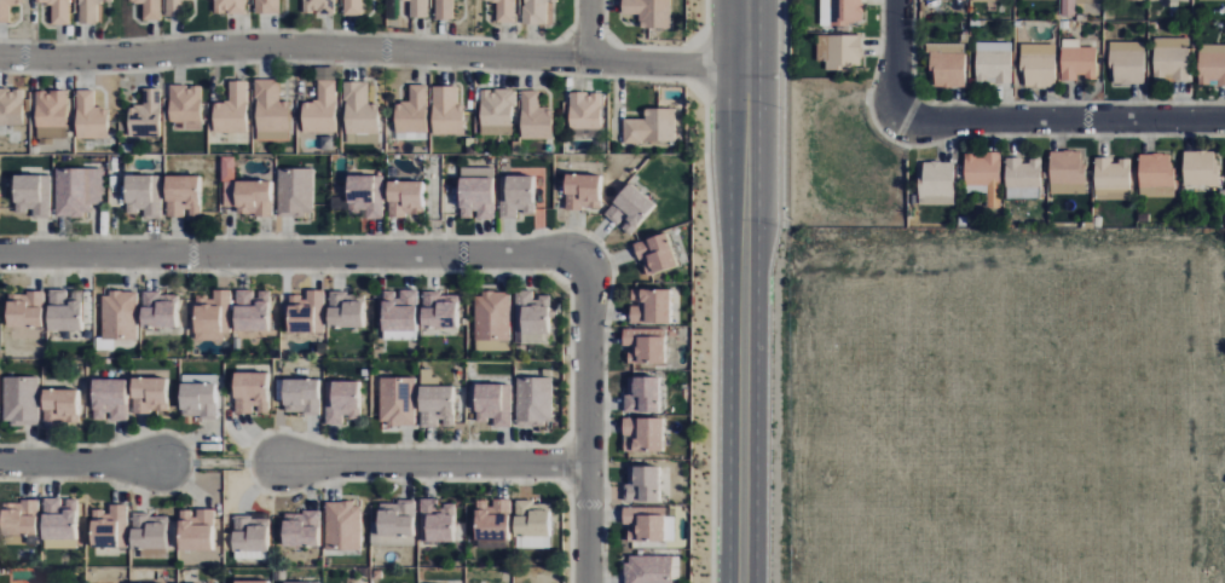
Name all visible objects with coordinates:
building: (989, 0)
building: (1214, 0)
building: (232, 6)
building: (270, 6)
building: (320, 6)
building: (356, 6)
building: (420, 7)
building: (1068, 7)
building: (7, 8)
building: (152, 8)
building: (177, 8)
building: (446, 8)
building: (60, 10)
building: (92, 10)
building: (507, 10)
building: (538, 11)
building: (840, 11)
building: (649, 12)
road: (705, 21)
road: (573, 22)
road: (603, 22)
road: (588, 29)
road: (281, 31)
road: (746, 31)
road: (584, 42)
road: (692, 46)
road: (645, 48)
road: (372, 50)
building: (838, 51)
road: (896, 59)
building: (1171, 59)
building: (993, 63)
building: (1077, 63)
building: (1127, 63)
road: (701, 64)
building: (947, 64)
building: (1212, 64)
building: (1038, 65)
road: (599, 76)
building: (186, 103)
building: (11, 106)
building: (271, 106)
building: (497, 106)
building: (53, 108)
building: (235, 109)
building: (360, 109)
building: (323, 110)
building: (414, 110)
building: (587, 110)
building: (449, 111)
building: (148, 115)
building: (92, 116)
building: (537, 117)
road: (1064, 121)
building: (652, 127)
building: (1200, 168)
building: (1065, 172)
building: (1023, 173)
building: (983, 174)
building: (1111, 174)
building: (1155, 175)
building: (936, 183)
building: (77, 191)
building: (294, 191)
building: (580, 191)
building: (243, 192)
building: (474, 192)
building: (1018, 192)
building: (31, 195)
building: (141, 195)
building: (515, 195)
building: (1117, 195)
building: (362, 197)
building: (403, 198)
building: (628, 208)
building: (654, 253)
road: (290, 254)
building: (649, 306)
building: (23, 310)
building: (157, 310)
building: (438, 310)
building: (249, 311)
building: (302, 311)
building: (343, 311)
building: (398, 314)
building: (212, 316)
building: (117, 317)
building: (532, 318)
building: (491, 321)
road: (727, 321)
road: (757, 322)
building: (642, 345)
building: (249, 393)
building: (641, 394)
building: (148, 396)
building: (197, 396)
building: (299, 396)
building: (108, 399)
building: (19, 400)
building: (341, 400)
building: (533, 400)
building: (395, 402)
building: (492, 404)
building: (58, 406)
building: (435, 406)
road: (585, 420)
building: (641, 434)
road: (424, 463)
road: (86, 464)
building: (17, 518)
building: (393, 519)
building: (490, 520)
building: (437, 521)
building: (58, 524)
building: (643, 524)
building: (342, 526)
building: (530, 526)
building: (109, 527)
building: (299, 529)
building: (193, 530)
building: (146, 531)
building: (249, 536)
building: (647, 568)
building: (249, 582)
building: (289, 582)

